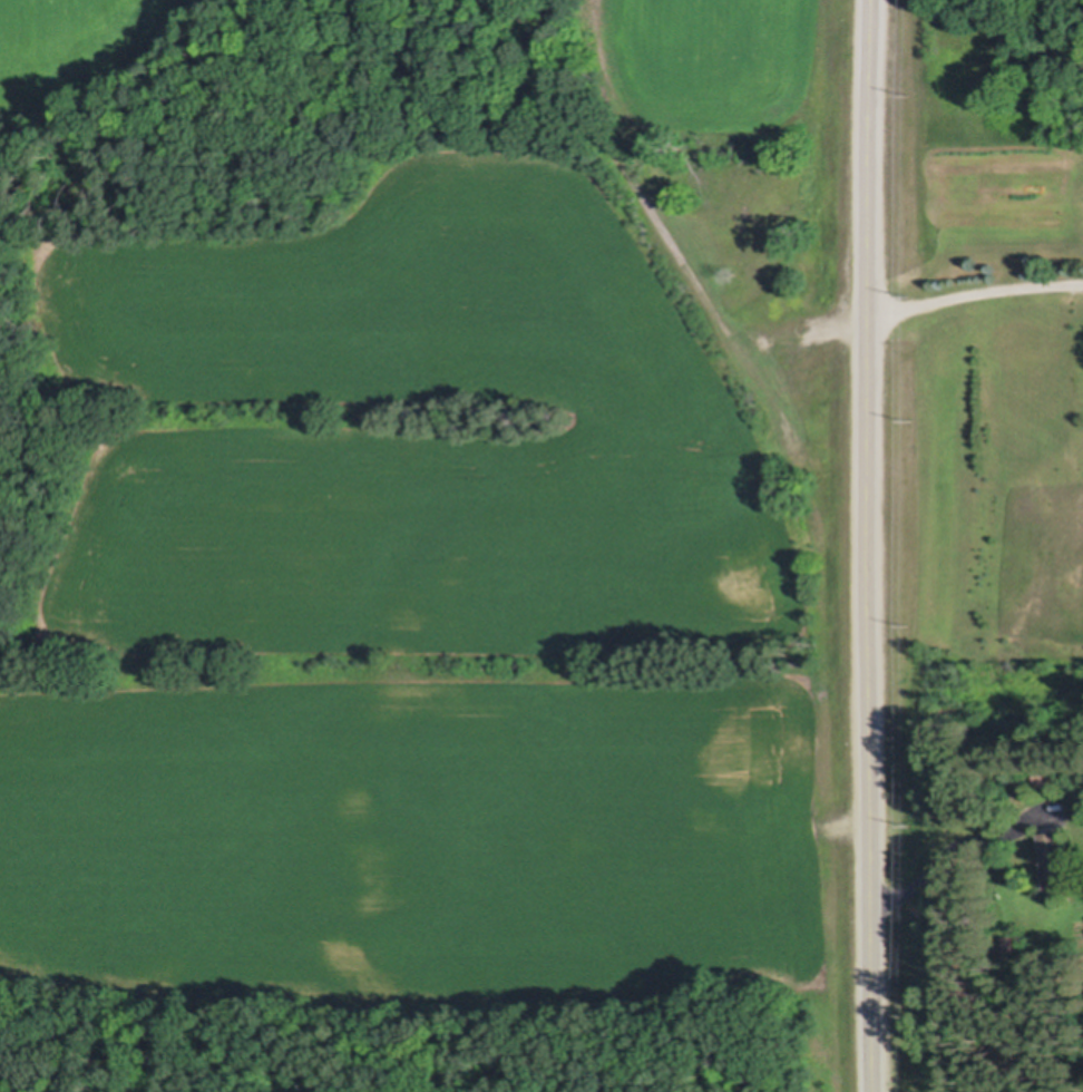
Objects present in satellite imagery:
road: (975, 291)
road: (871, 545)
building: (1044, 777)
building: (1053, 859)
building: (1008, 939)

